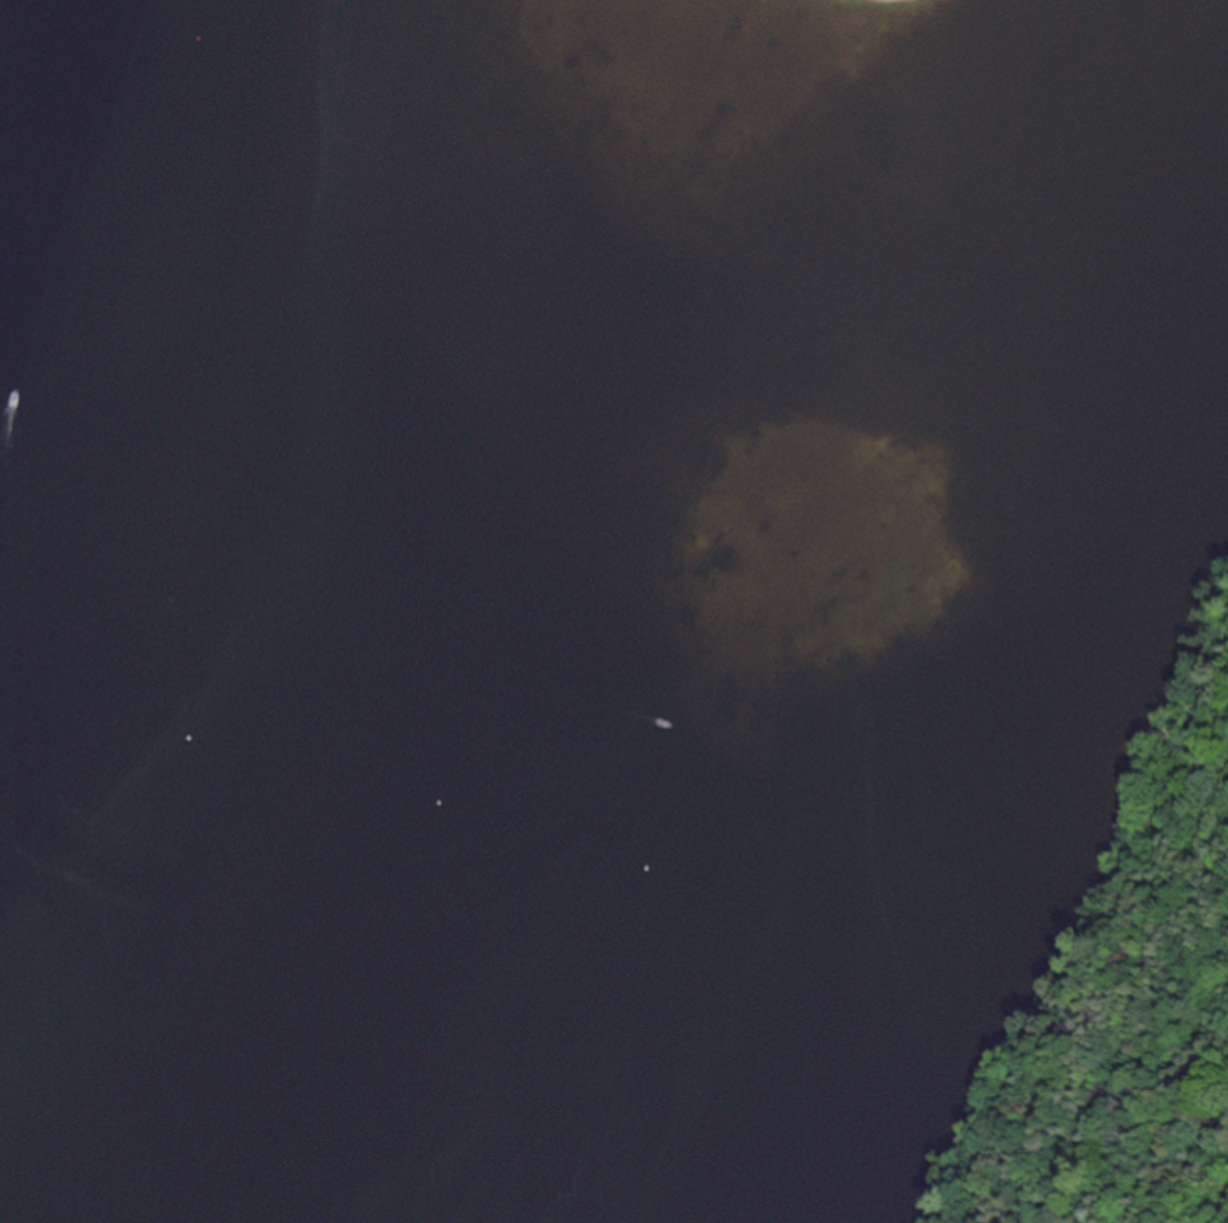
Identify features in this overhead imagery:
river: (299, 612)

